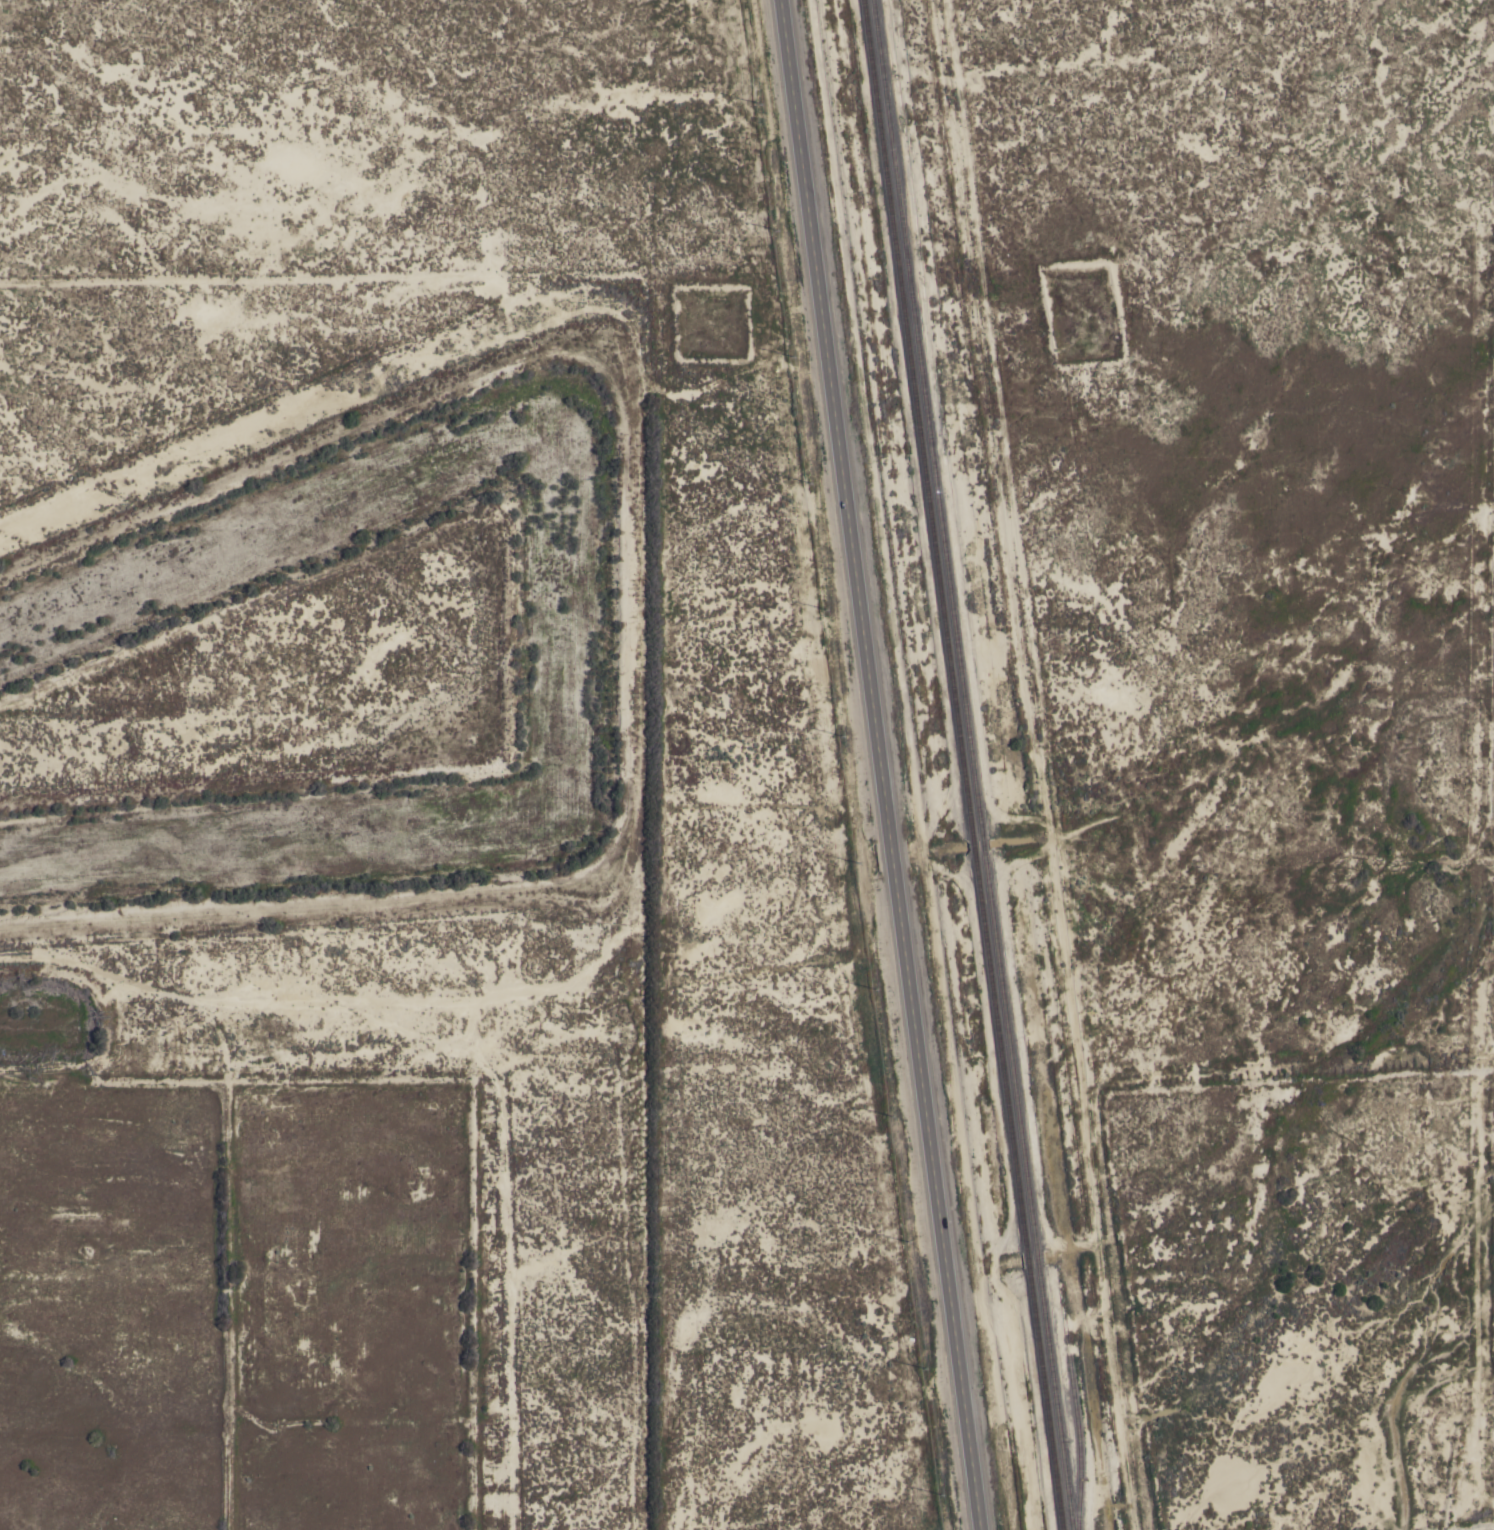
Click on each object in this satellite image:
railway: (917, 419)
railway: (926, 419)
road: (881, 765)
road: (1043, 765)
railway: (982, 846)
railway: (973, 848)
railway: (1009, 1052)
railway: (999, 1053)
railway: (1026, 1259)
railway: (1036, 1259)
railway: (1045, 1400)
railway: (1054, 1400)

